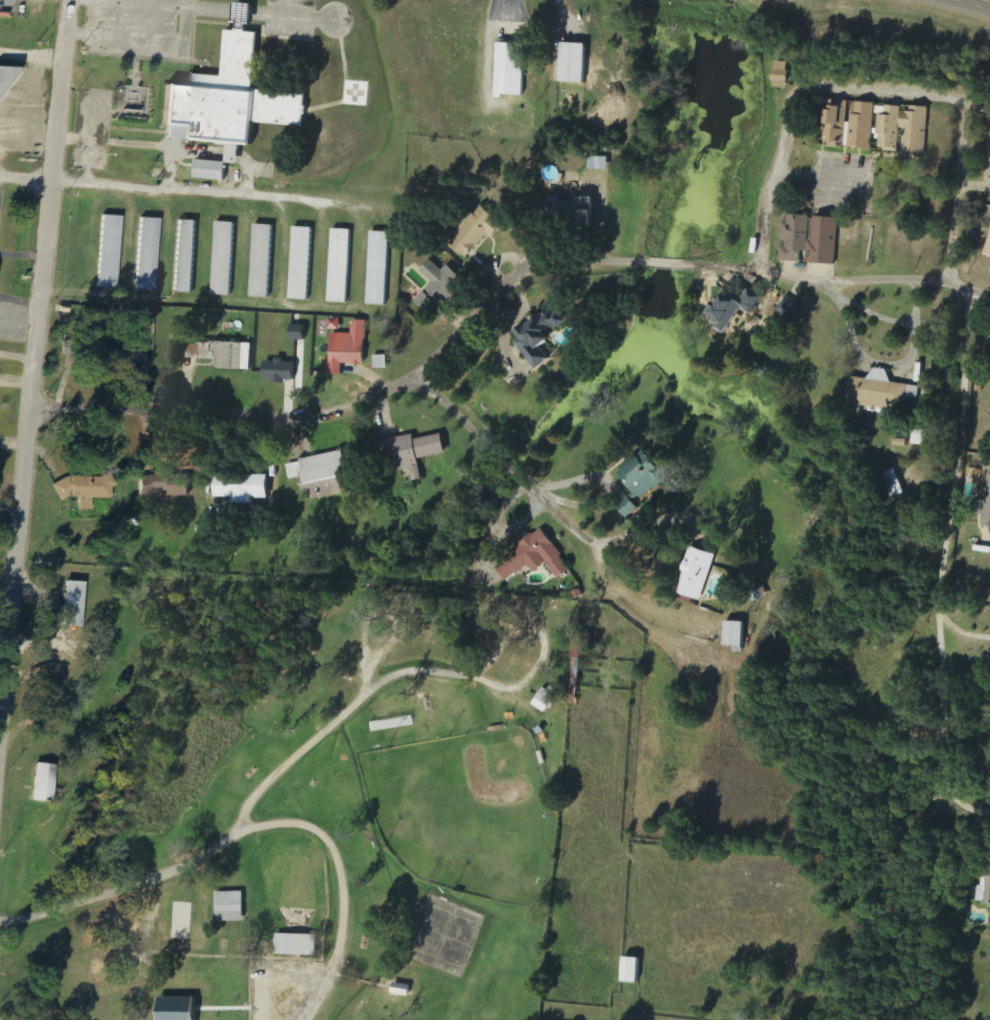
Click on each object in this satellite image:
road: (965, 7)
building: (578, 63)
building: (514, 70)
building: (784, 75)
road: (878, 88)
building: (0, 89)
building: (231, 100)
building: (852, 126)
building: (904, 129)
building: (601, 163)
building: (215, 170)
road: (164, 189)
building: (578, 208)
building: (481, 231)
building: (798, 239)
building: (827, 241)
building: (110, 251)
building: (148, 253)
building: (989, 254)
building: (187, 256)
building: (225, 259)
building: (263, 261)
building: (302, 263)
building: (341, 266)
building: (380, 268)
building: (441, 287)
road: (497, 296)
building: (743, 309)
building: (300, 333)
building: (543, 336)
building: (351, 348)
road: (17, 355)
building: (226, 355)
building: (128, 359)
building: (283, 371)
road: (32, 377)
building: (884, 391)
building: (922, 438)
building: (417, 450)
road: (503, 462)
building: (324, 474)
building: (646, 474)
building: (896, 484)
building: (167, 485)
building: (246, 488)
building: (86, 489)
building: (631, 508)
road: (989, 543)
building: (537, 559)
road: (939, 568)
building: (699, 573)
building: (77, 604)
road: (959, 630)
building: (739, 637)
road: (2, 700)
building: (547, 700)
building: (896, 704)
building: (47, 783)
road: (255, 833)
building: (984, 888)
building: (232, 907)
building: (182, 920)
building: (296, 945)
building: (628, 970)
building: (400, 990)
building: (175, 1009)

